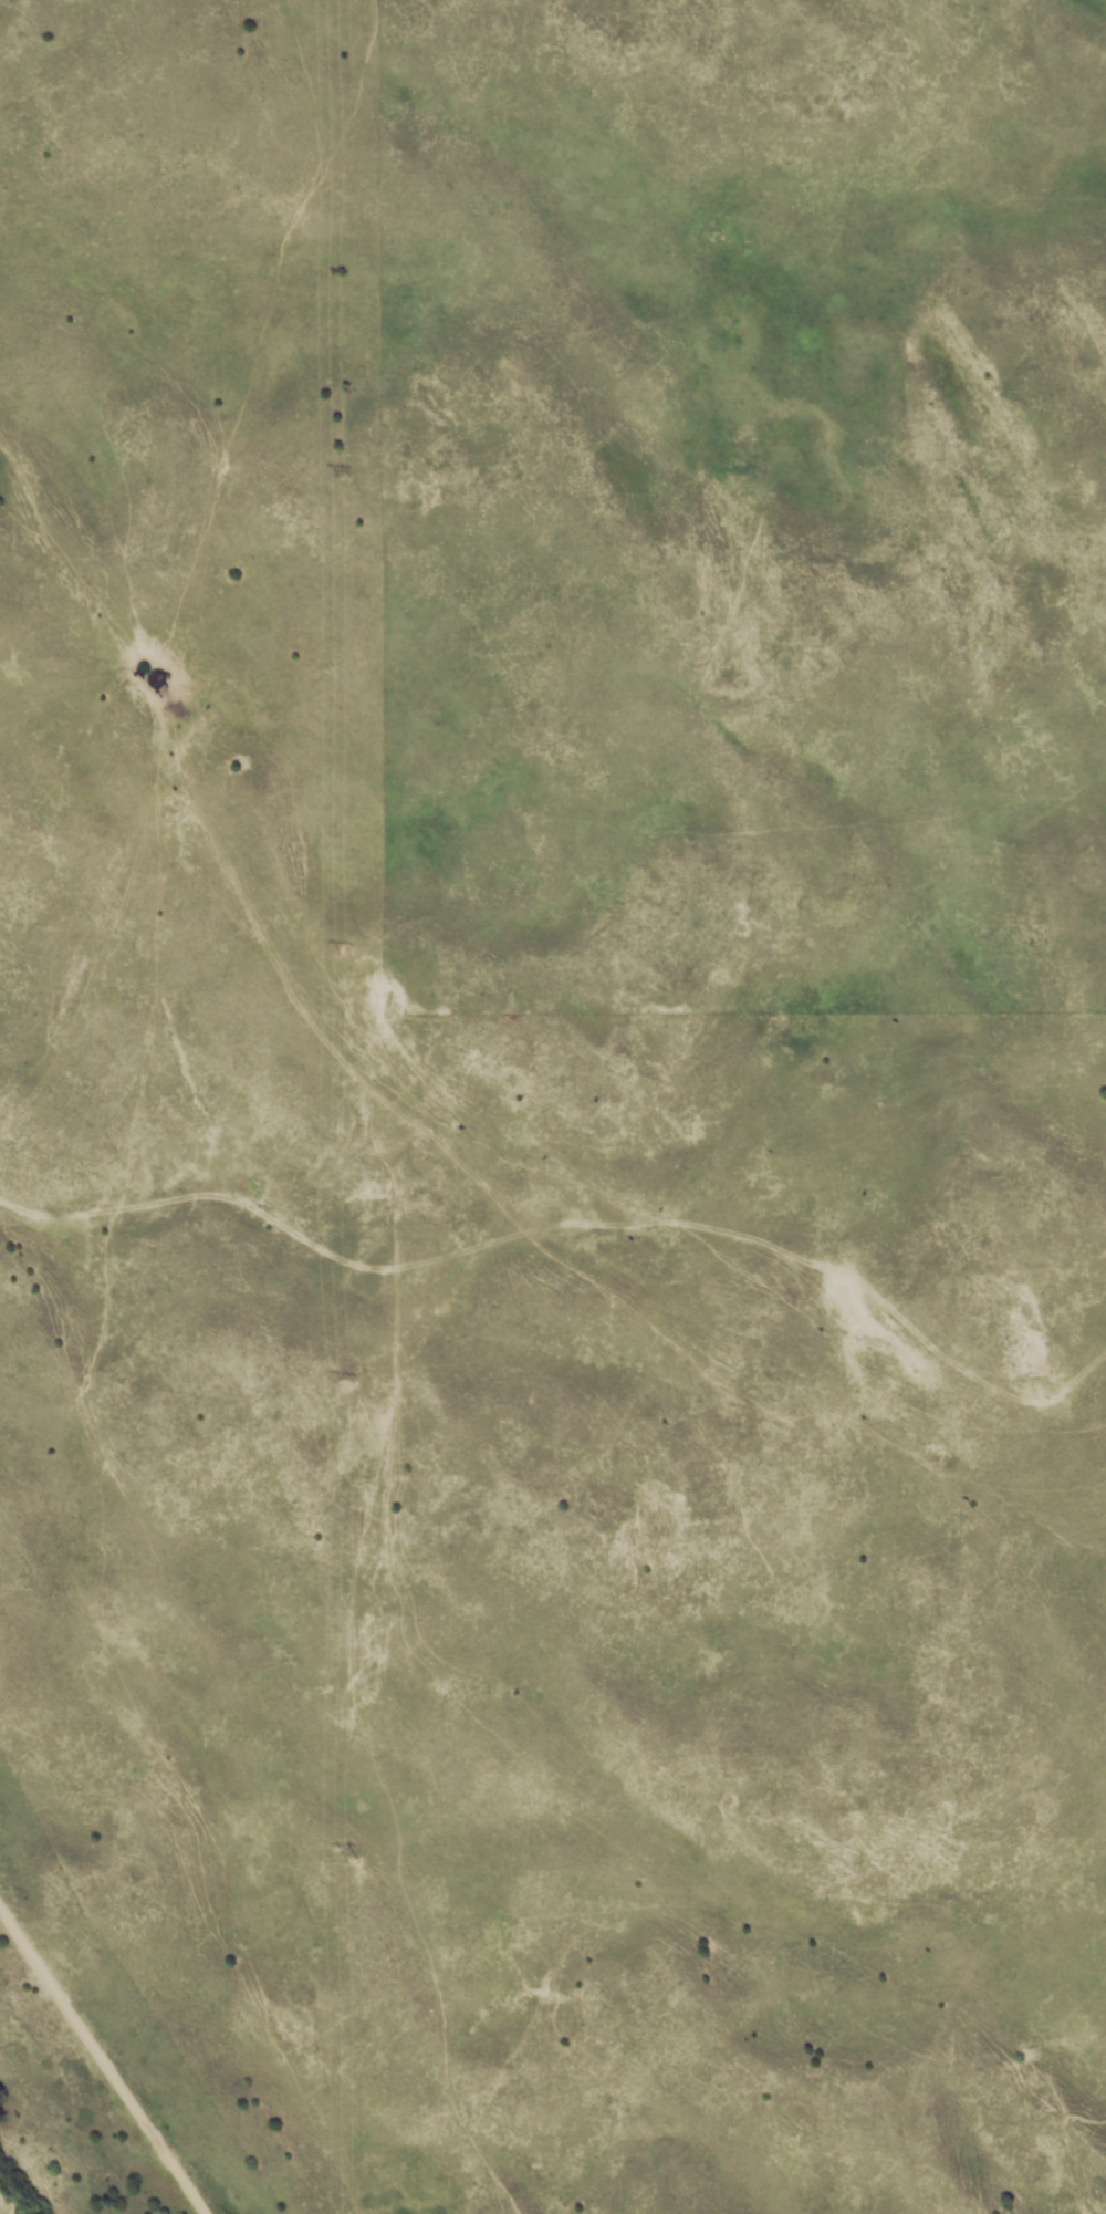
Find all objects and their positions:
power tower: (343, 478)
power tower: (347, 954)
power tower: (351, 1385)
power tower: (354, 1862)
road: (106, 2062)

